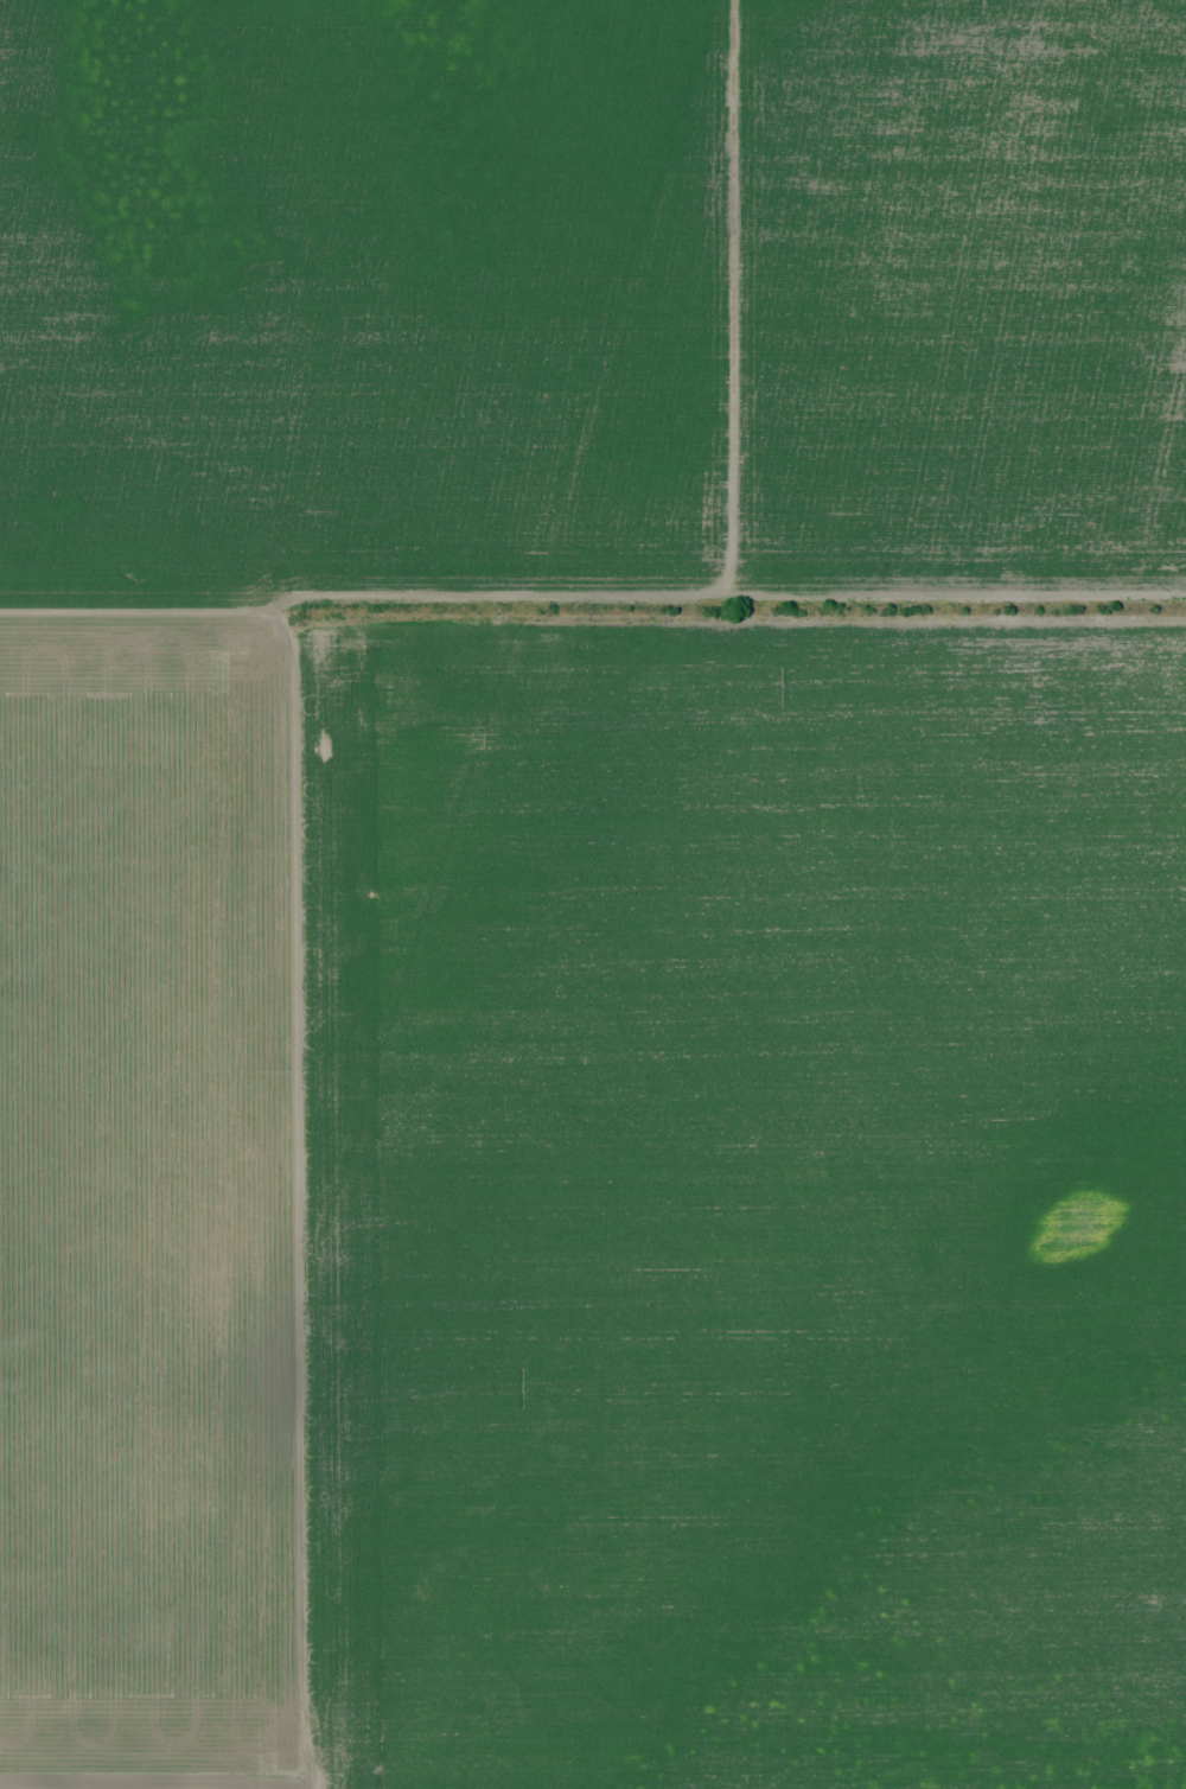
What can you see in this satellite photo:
road: (725, 304)

